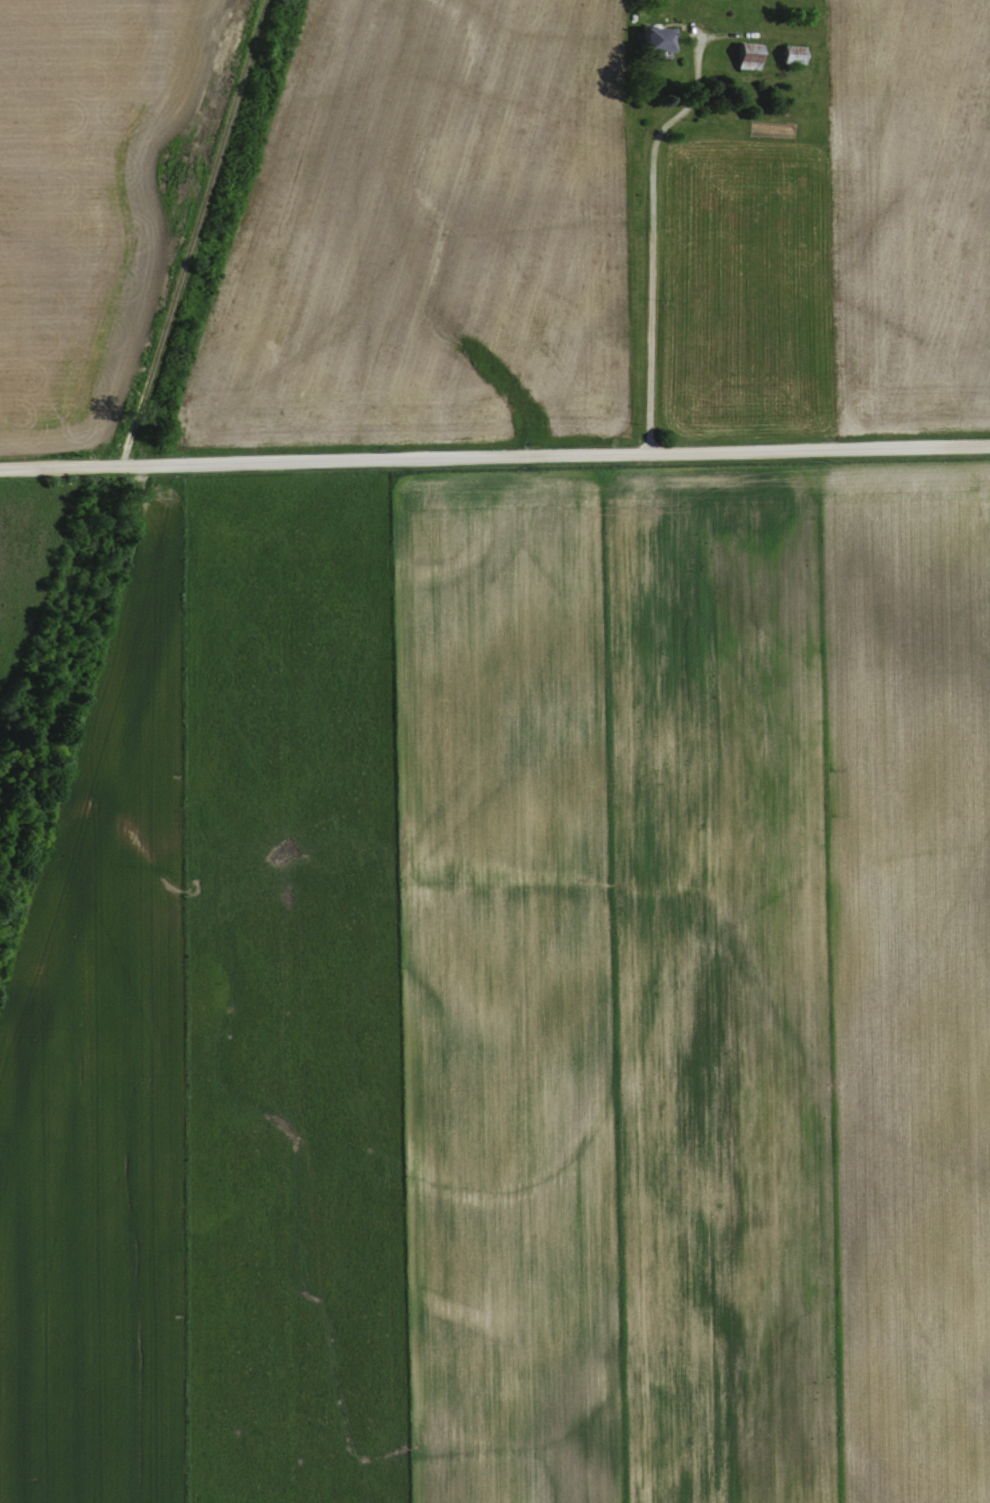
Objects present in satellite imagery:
road: (638, 155)
road: (495, 455)

